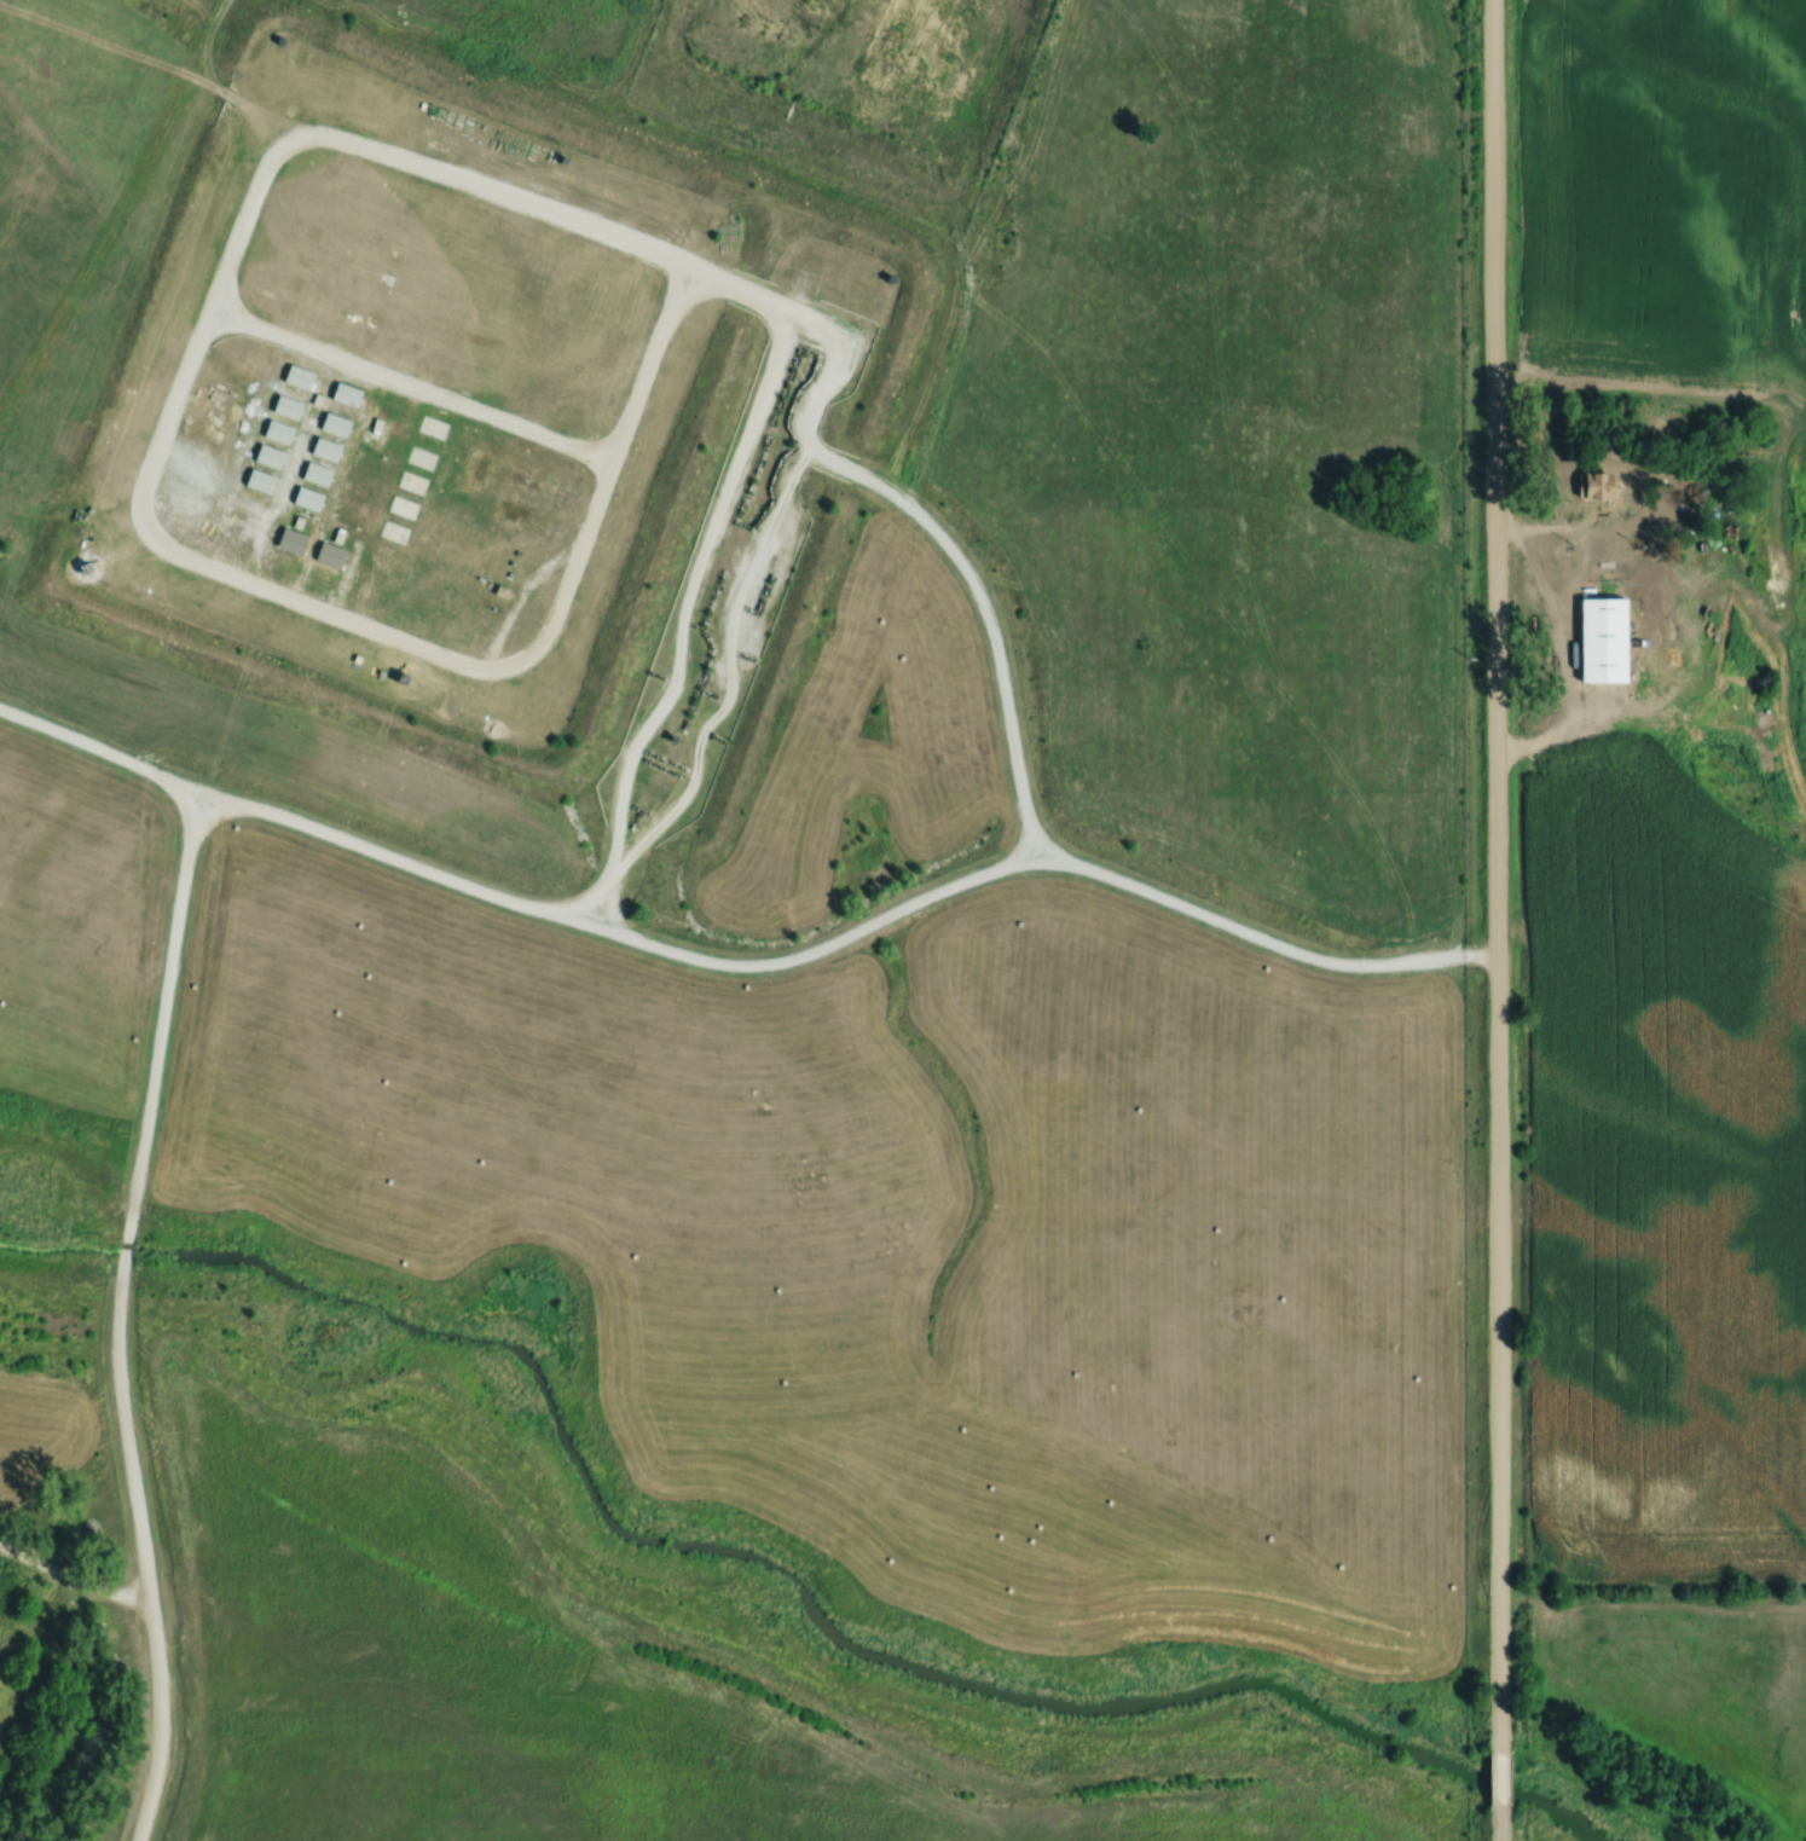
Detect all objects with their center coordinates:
road: (266, 157)
road: (411, 378)
building: (435, 427)
building: (477, 468)
building: (532, 475)
building: (1602, 482)
building: (520, 509)
road: (1507, 534)
road: (1580, 542)
road: (679, 614)
building: (1610, 638)
road: (1495, 872)
road: (747, 959)
road: (115, 1316)
river: (768, 1568)
road: (76, 1585)
road: (1505, 1776)
road: (1504, 1824)

